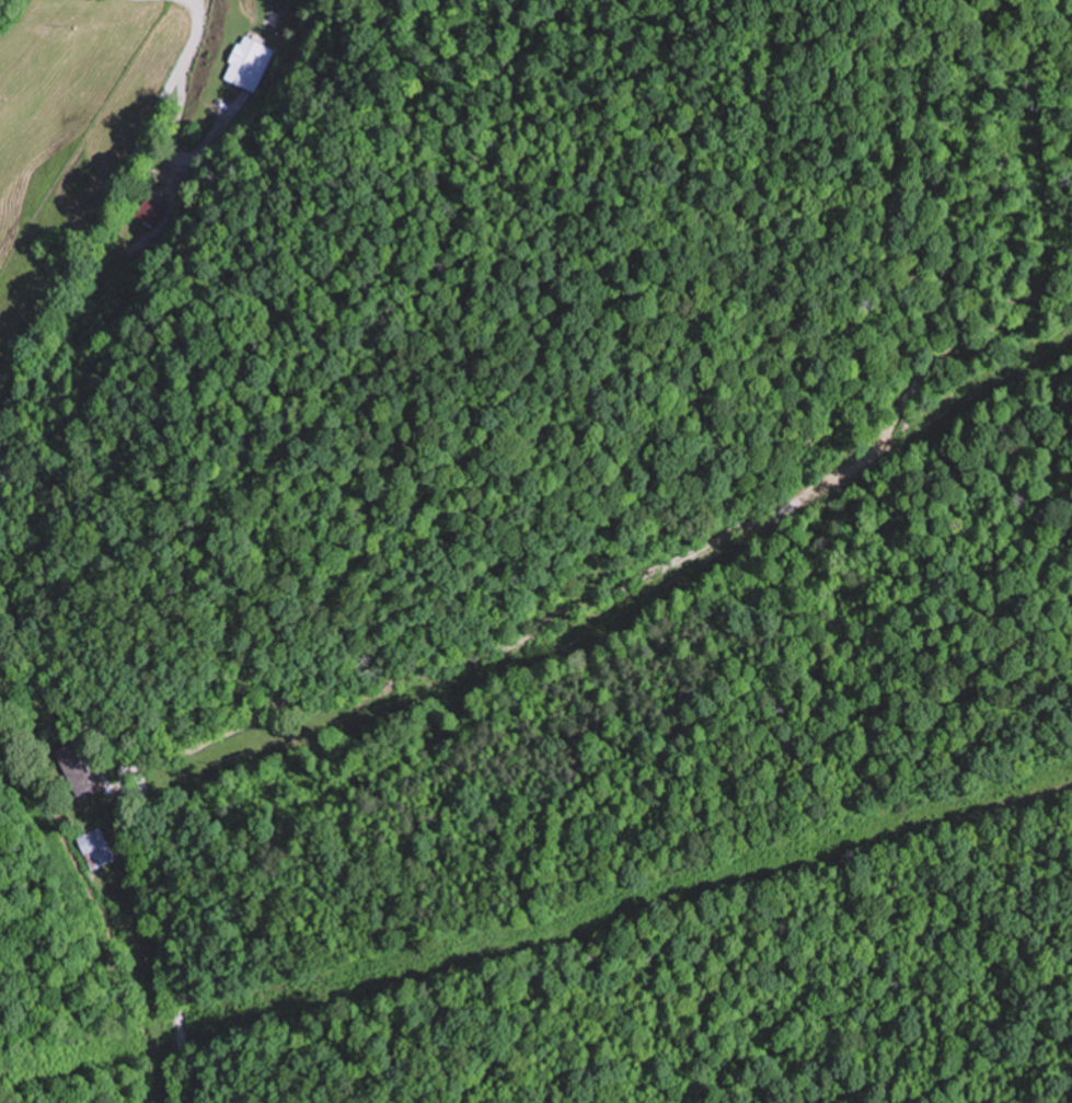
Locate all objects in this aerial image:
building: (249, 64)
building: (150, 208)
road: (96, 235)
road: (638, 578)
building: (77, 771)
road: (149, 835)
building: (96, 848)

